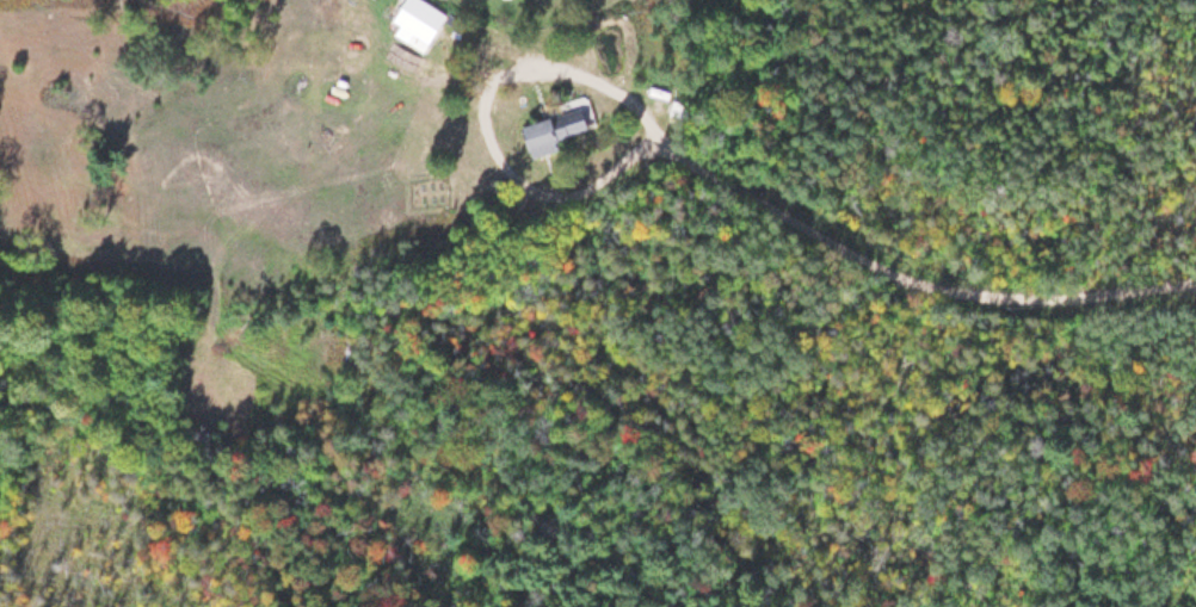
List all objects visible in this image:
building: (413, 21)
building: (547, 129)

